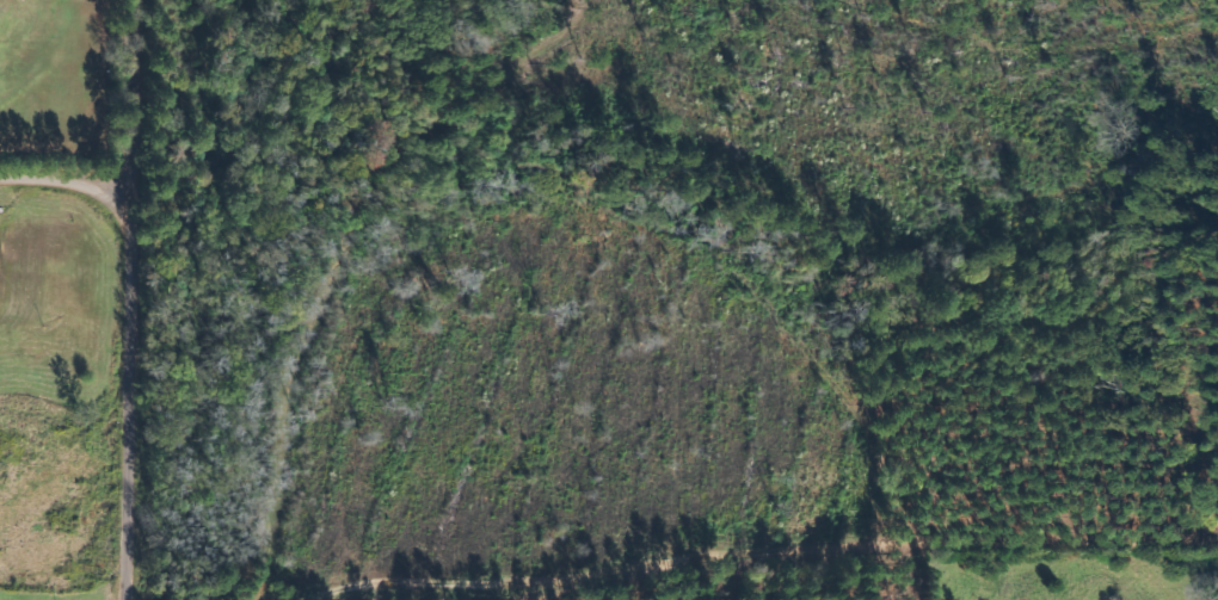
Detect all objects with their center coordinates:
road: (70, 178)
road: (140, 299)

